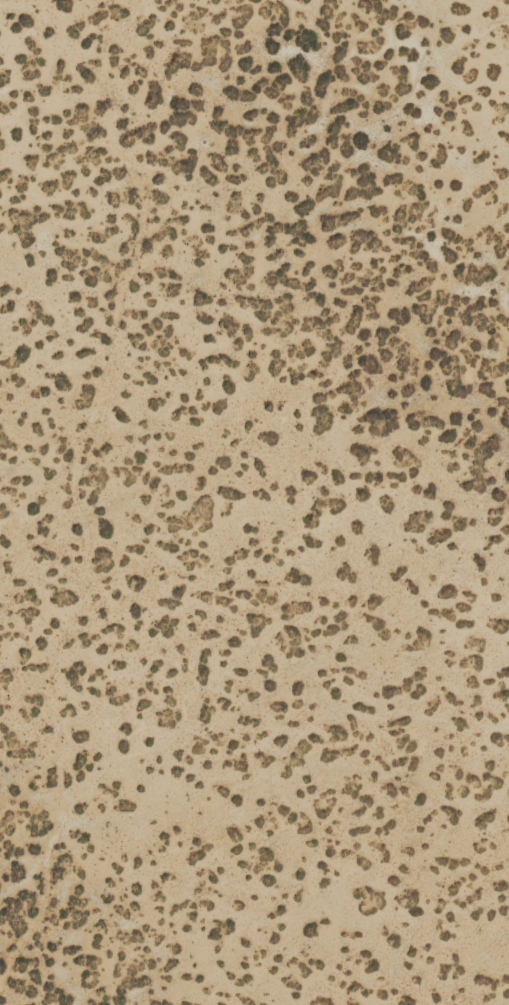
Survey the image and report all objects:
building: (142, 852)

